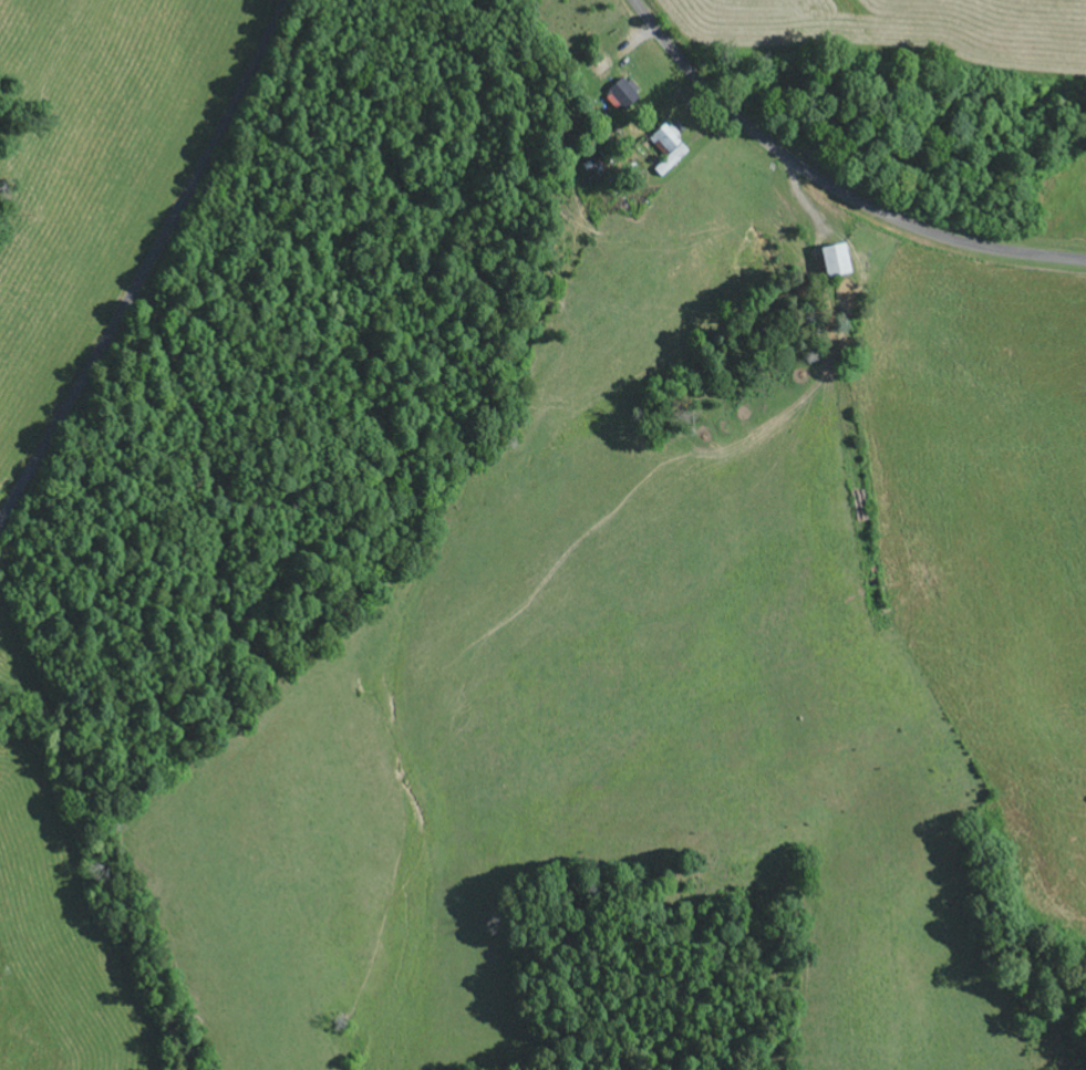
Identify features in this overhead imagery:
building: (618, 94)
building: (664, 149)
road: (827, 186)
building: (829, 261)
road: (151, 269)

